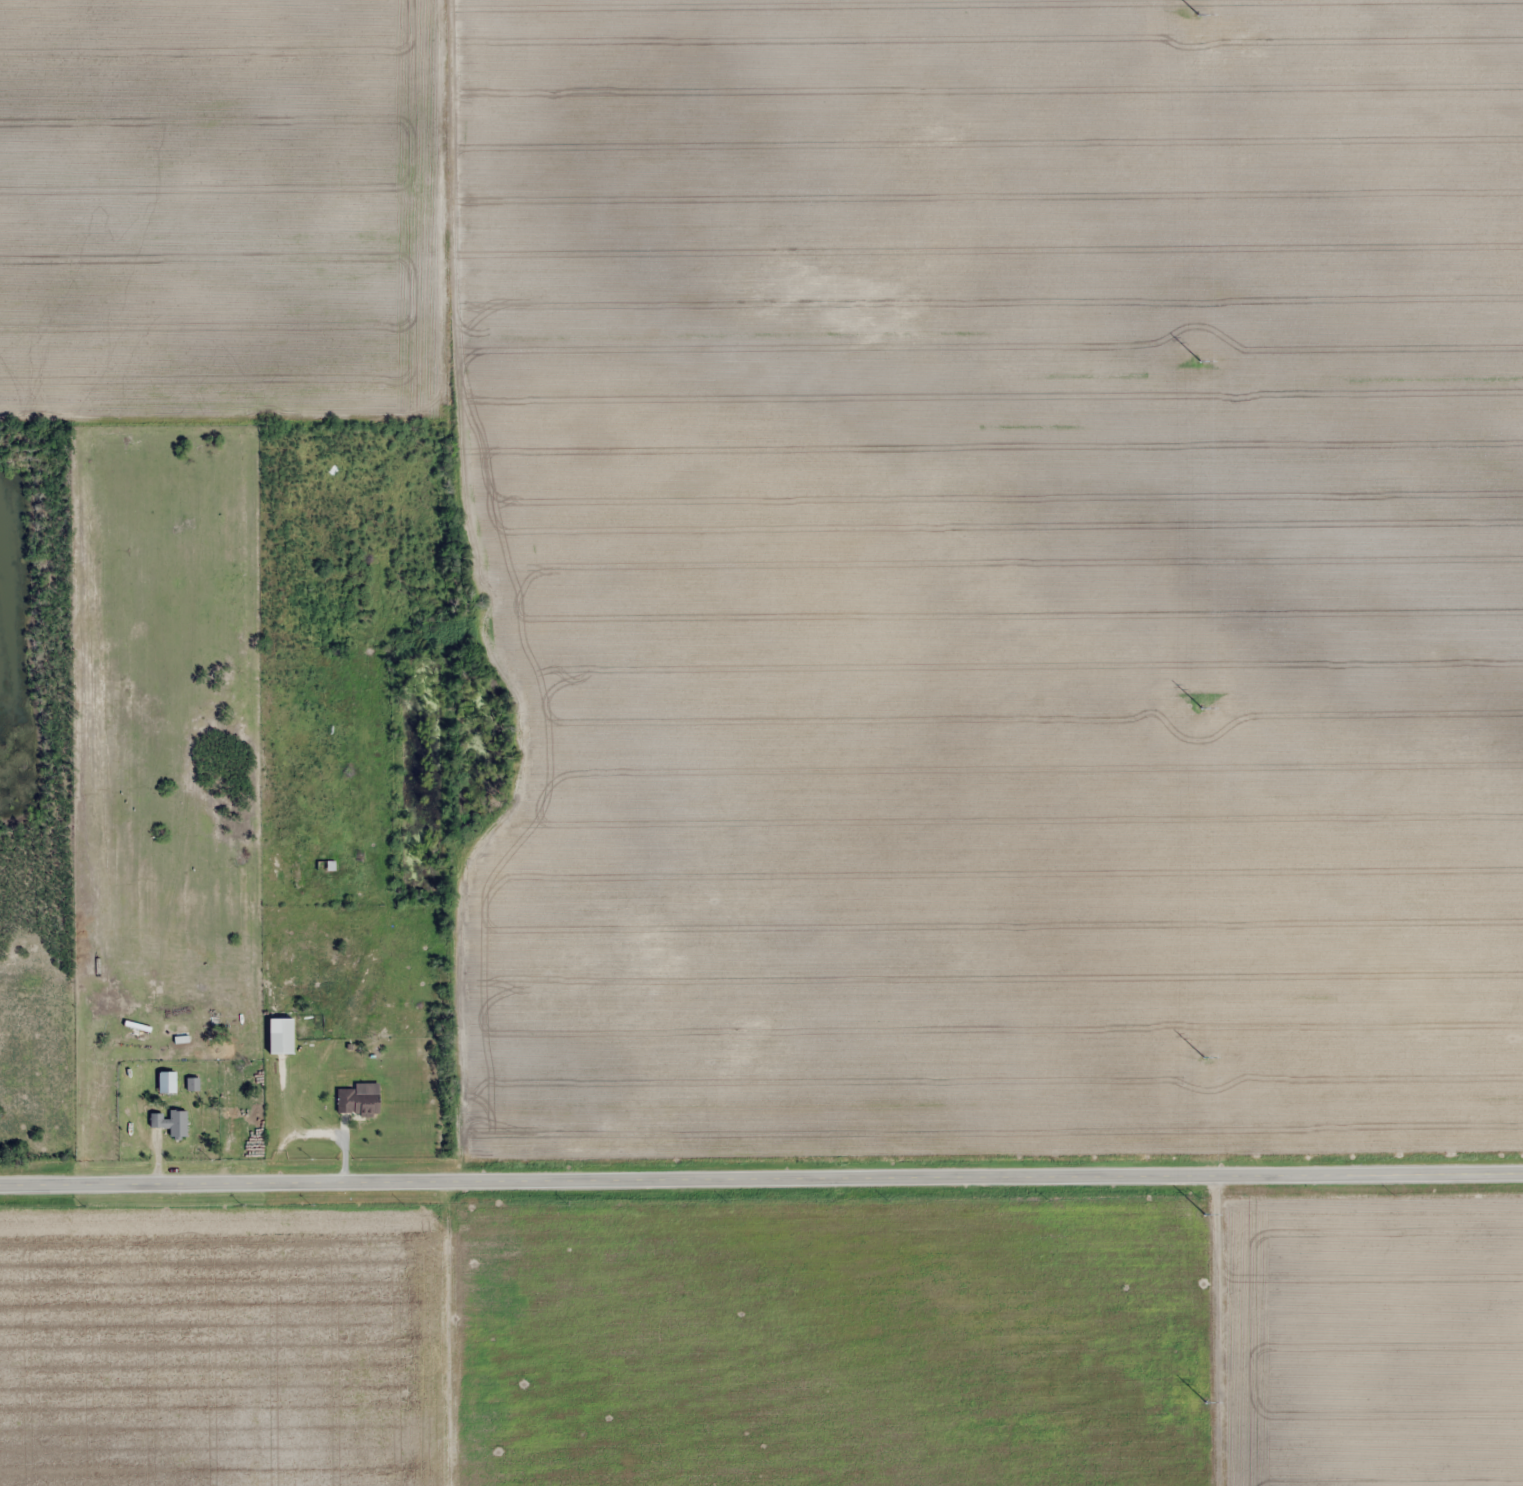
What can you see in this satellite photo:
power tower: (1197, 18)
power tower: (1199, 354)
road: (456, 624)
power tower: (1201, 701)
building: (326, 865)
building: (282, 1035)
power tower: (1202, 1051)
building: (168, 1083)
building: (358, 1102)
building: (172, 1123)
road: (761, 1182)
power tower: (1204, 1208)
road: (1232, 1332)
power tower: (1205, 1396)

